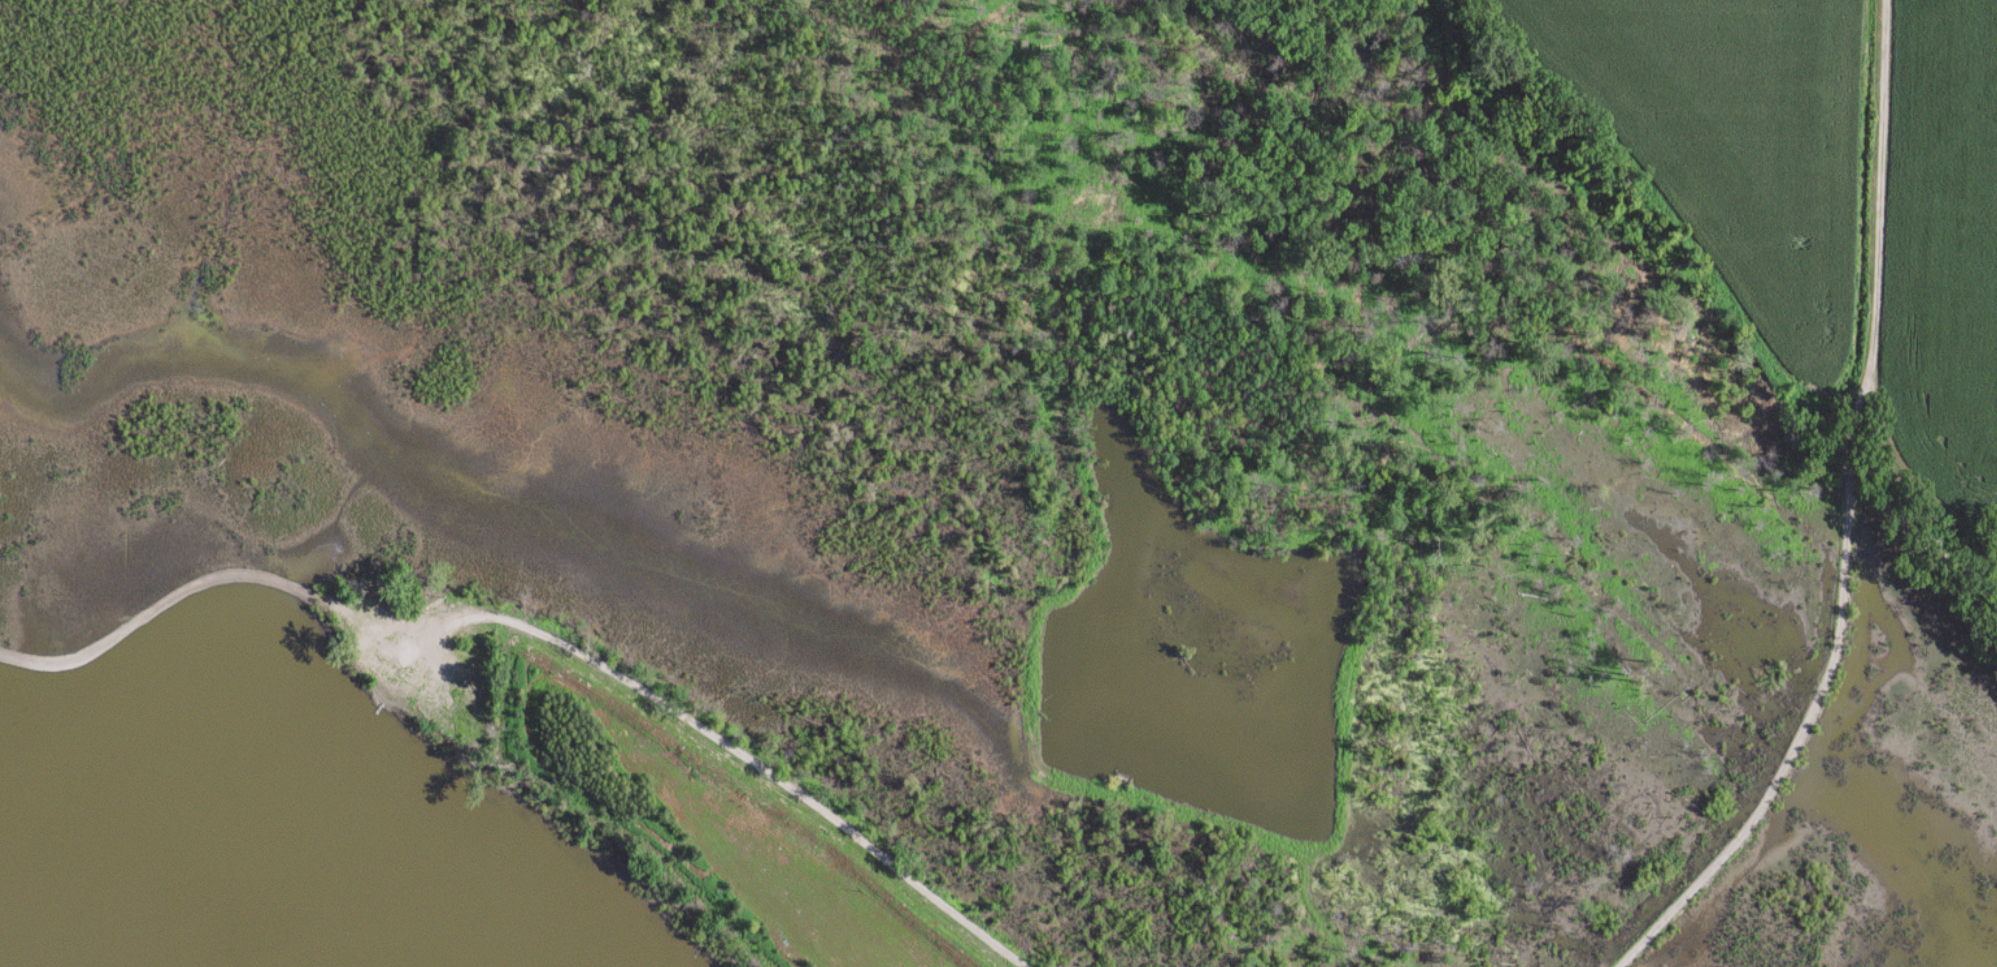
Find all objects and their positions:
road: (1856, 521)
building: (380, 656)

